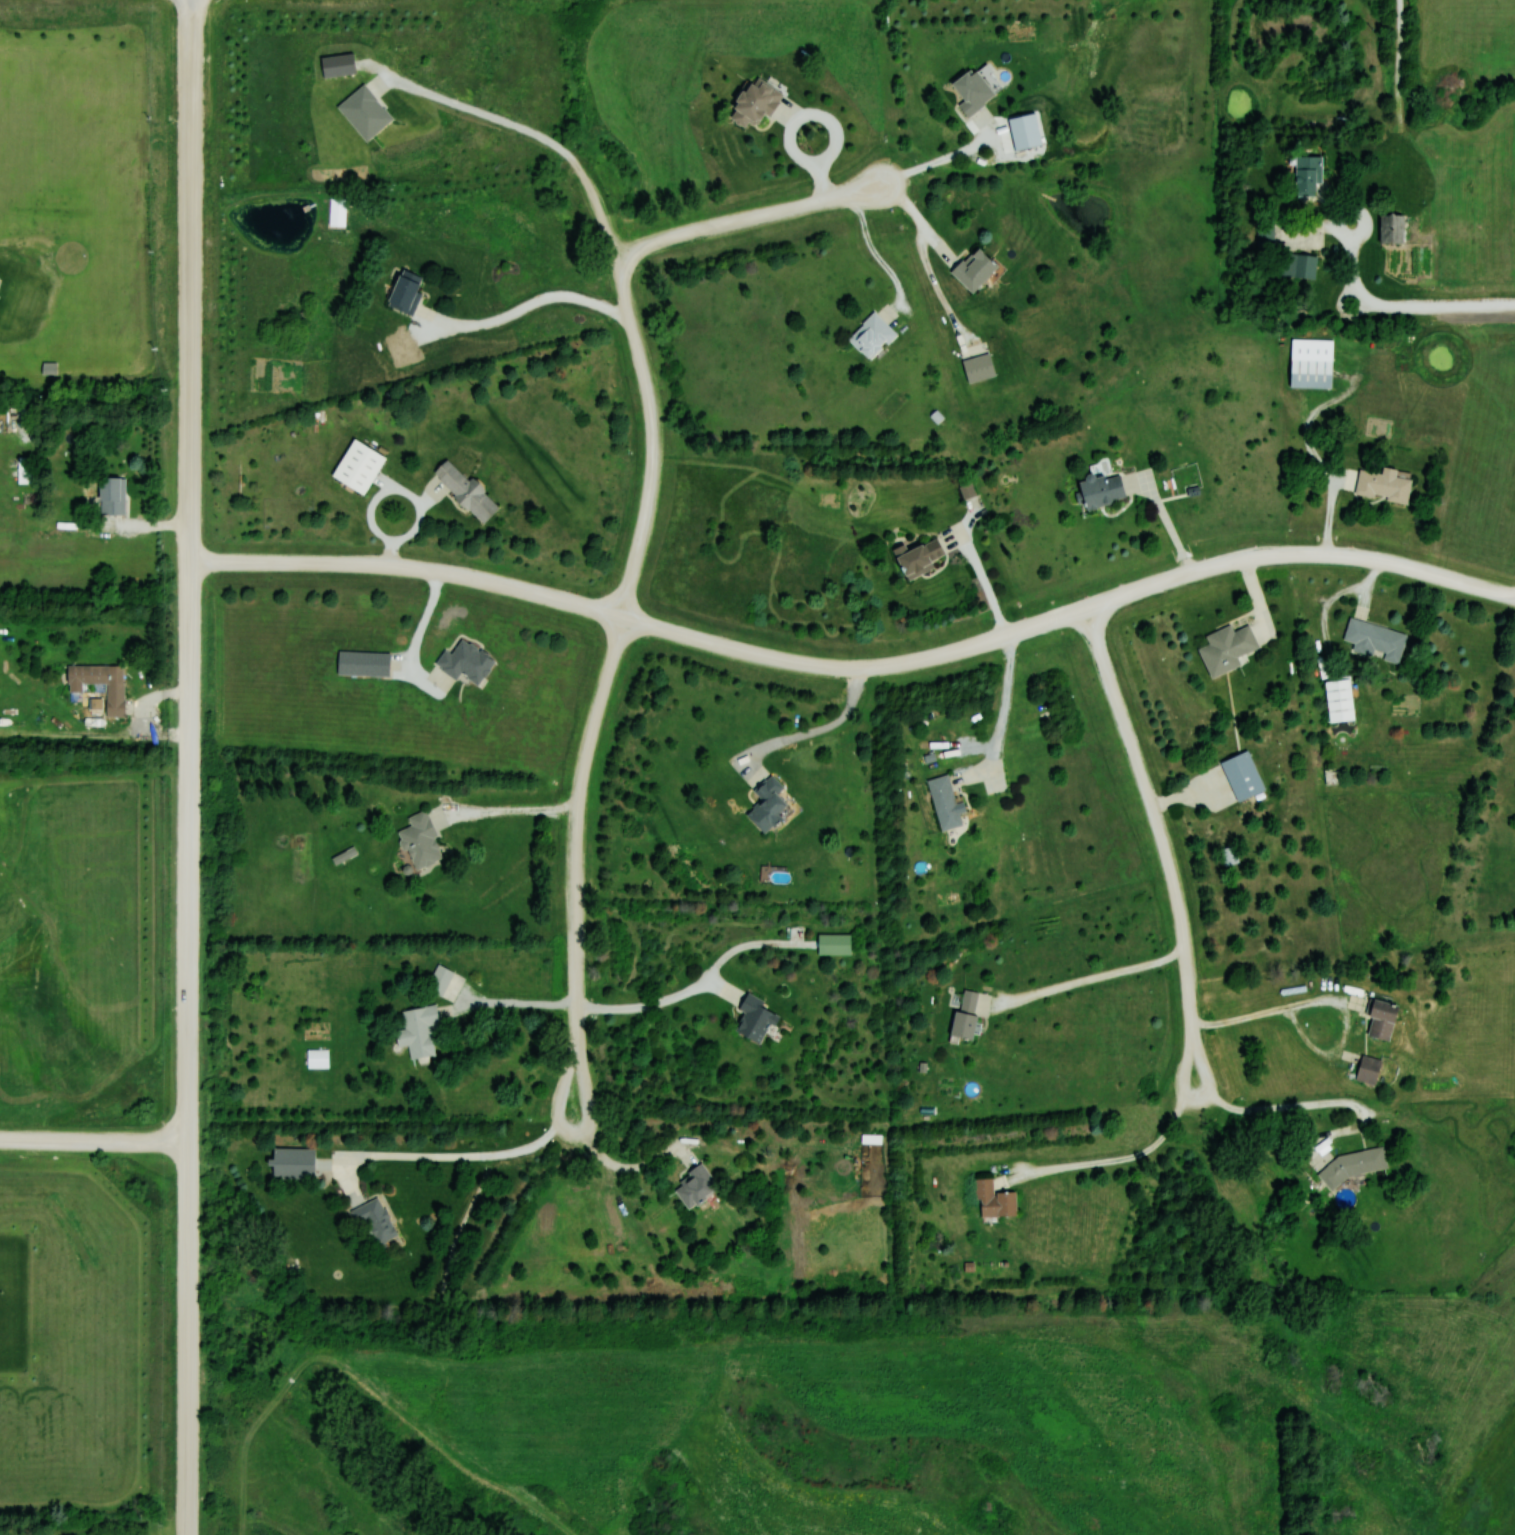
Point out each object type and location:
building: (336, 64)
building: (970, 89)
building: (751, 101)
building: (362, 111)
road: (820, 118)
road: (528, 131)
road: (941, 161)
building: (1305, 174)
road: (190, 199)
building: (335, 210)
road: (1354, 211)
road: (754, 217)
road: (921, 221)
building: (1389, 228)
building: (1264, 233)
road: (875, 253)
building: (1298, 266)
building: (971, 268)
building: (402, 290)
road: (532, 304)
road: (1414, 307)
building: (869, 335)
building: (399, 343)
building: (1309, 362)
building: (977, 367)
road: (660, 431)
building: (21, 433)
building: (356, 466)
building: (1382, 484)
building: (458, 488)
building: (1099, 488)
building: (966, 490)
building: (110, 495)
road: (1167, 519)
building: (917, 557)
road: (988, 591)
building: (1373, 640)
building: (1224, 648)
building: (463, 662)
building: (361, 664)
road: (858, 668)
building: (97, 684)
building: (1337, 700)
road: (1008, 705)
road: (818, 730)
building: (1240, 775)
building: (942, 802)
building: (764, 803)
road: (509, 811)
building: (418, 840)
road: (1165, 851)
road: (578, 867)
building: (833, 944)
road: (188, 966)
building: (438, 979)
road: (1090, 980)
road: (1325, 1001)
road: (511, 1004)
road: (655, 1004)
building: (963, 1016)
building: (753, 1019)
building: (1379, 1019)
building: (415, 1030)
building: (1367, 1069)
road: (1315, 1103)
road: (93, 1138)
road: (457, 1157)
road: (1111, 1161)
building: (290, 1163)
building: (1351, 1165)
road: (622, 1168)
building: (693, 1185)
building: (992, 1200)
building: (372, 1219)

